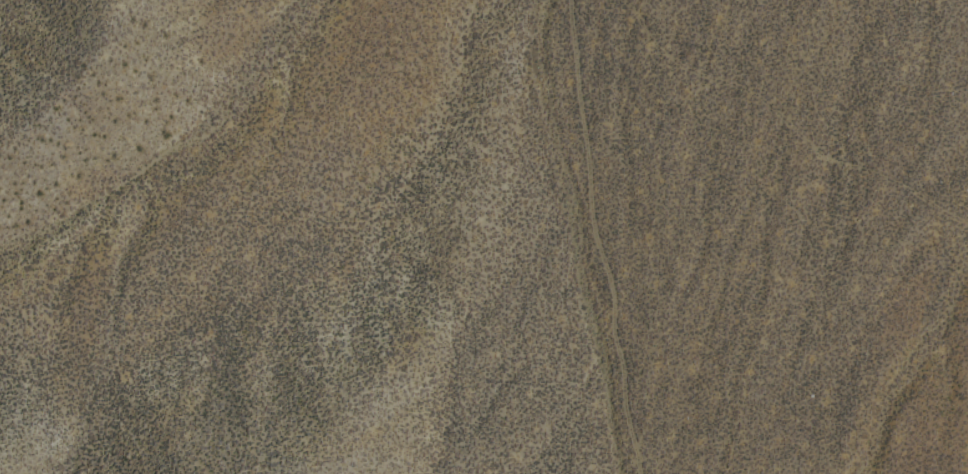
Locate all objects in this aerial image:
road: (785, 122)
road: (601, 237)

